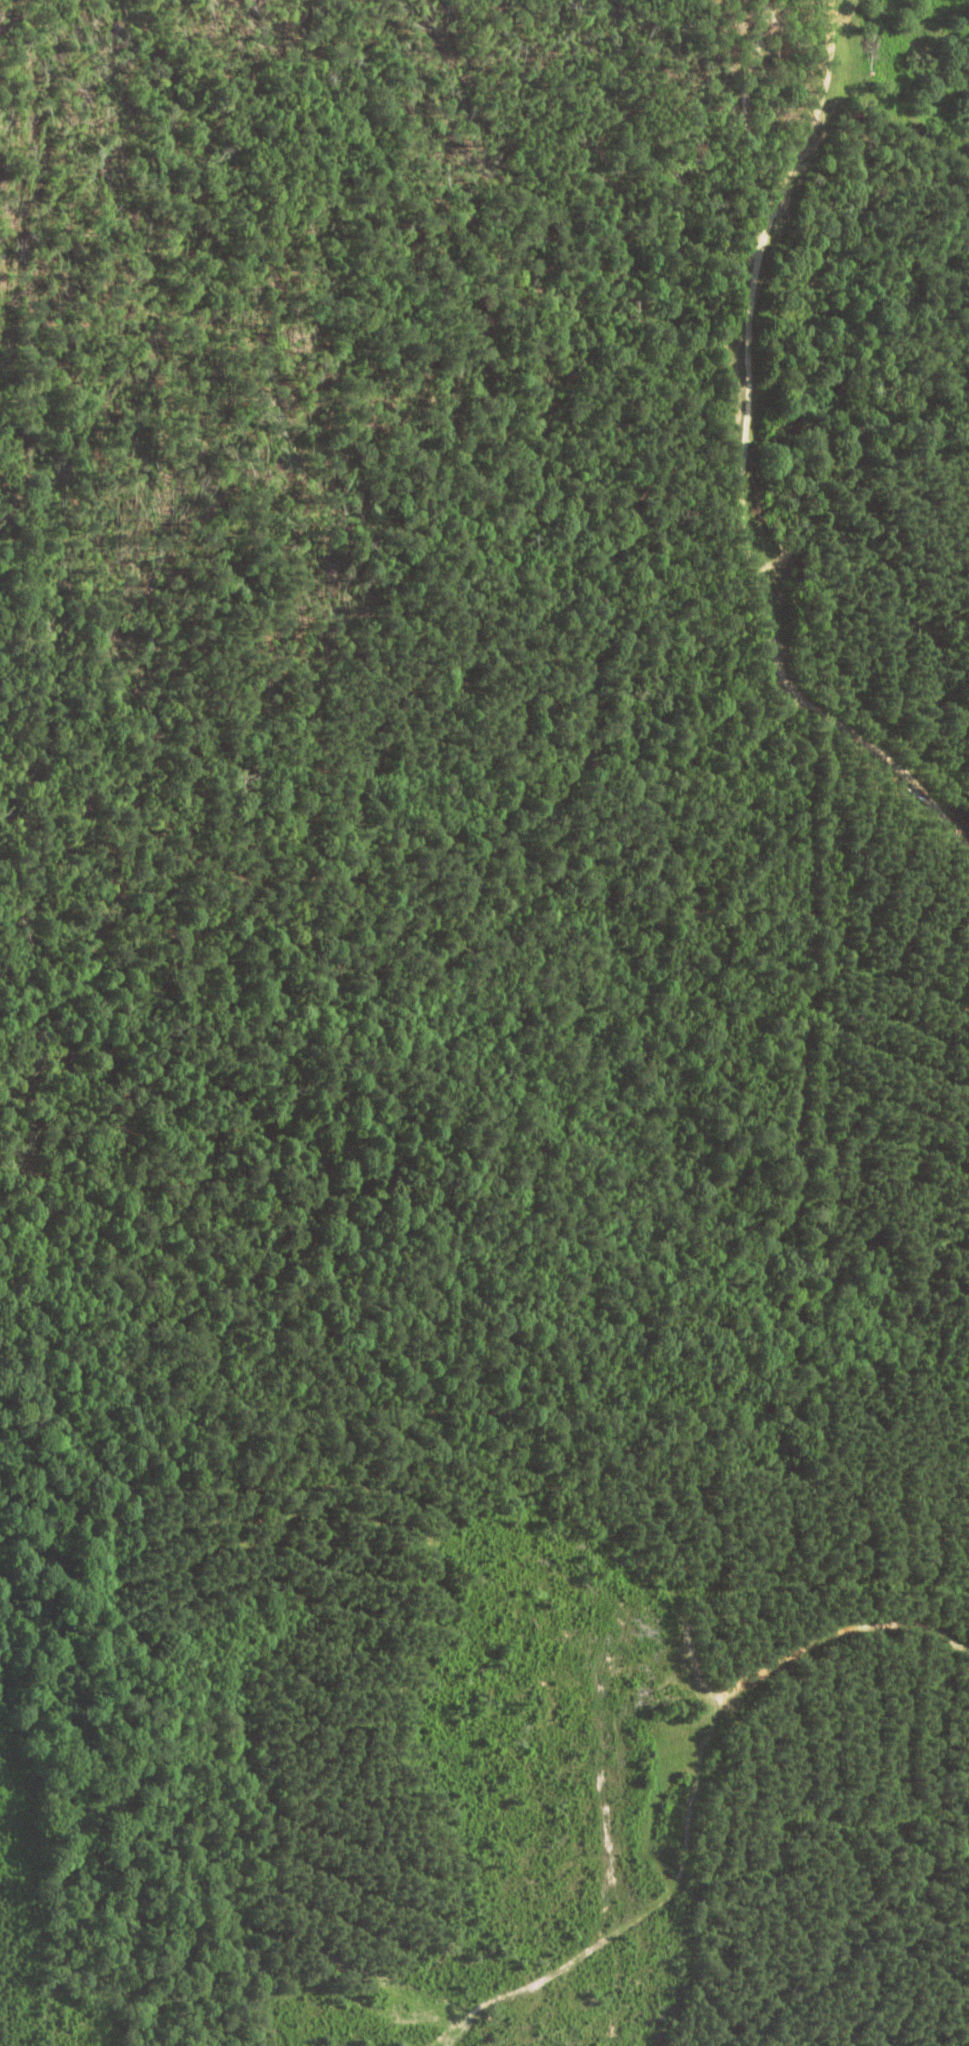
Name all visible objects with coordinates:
road: (735, 465)

